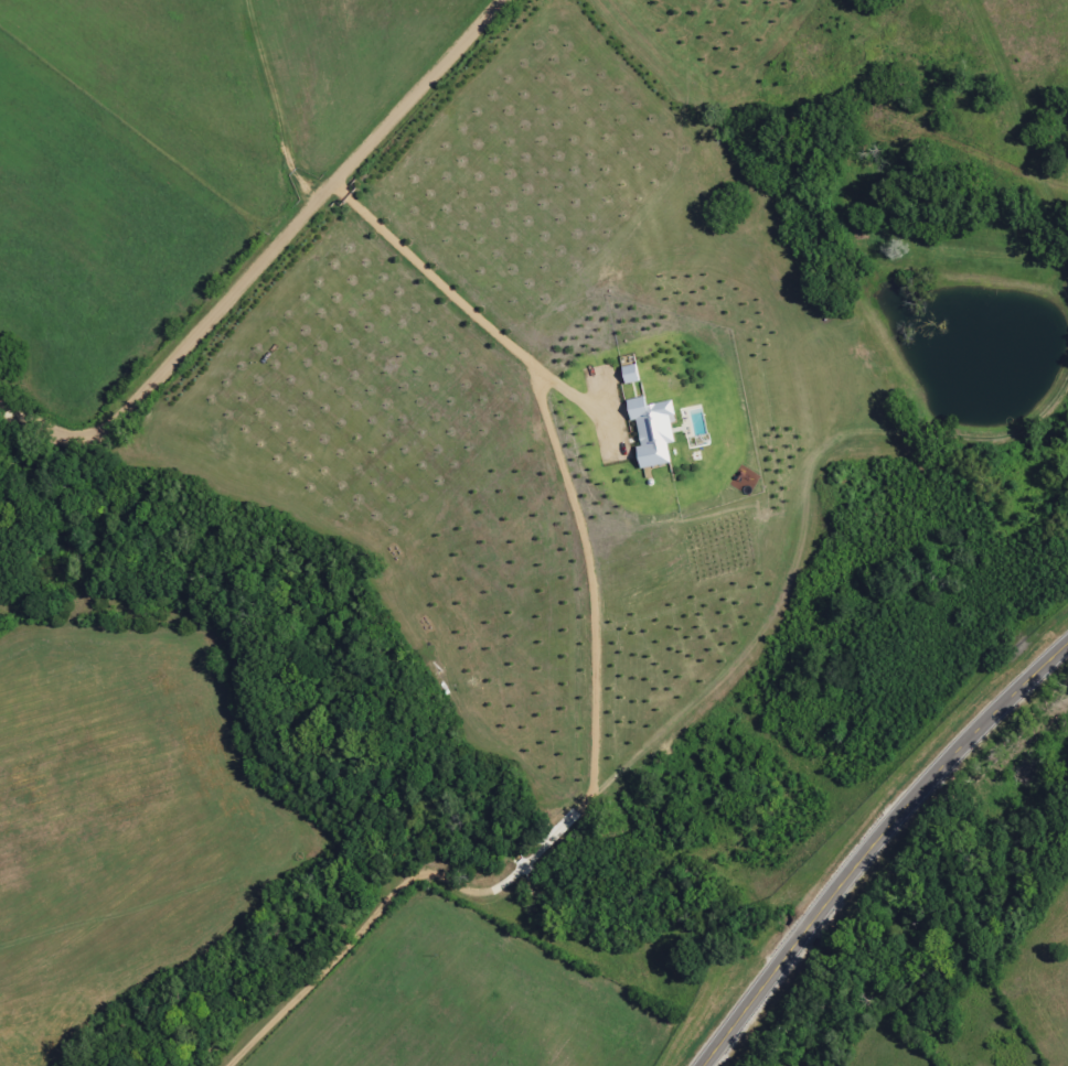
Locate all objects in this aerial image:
road: (269, 260)
building: (649, 432)
road: (874, 844)

